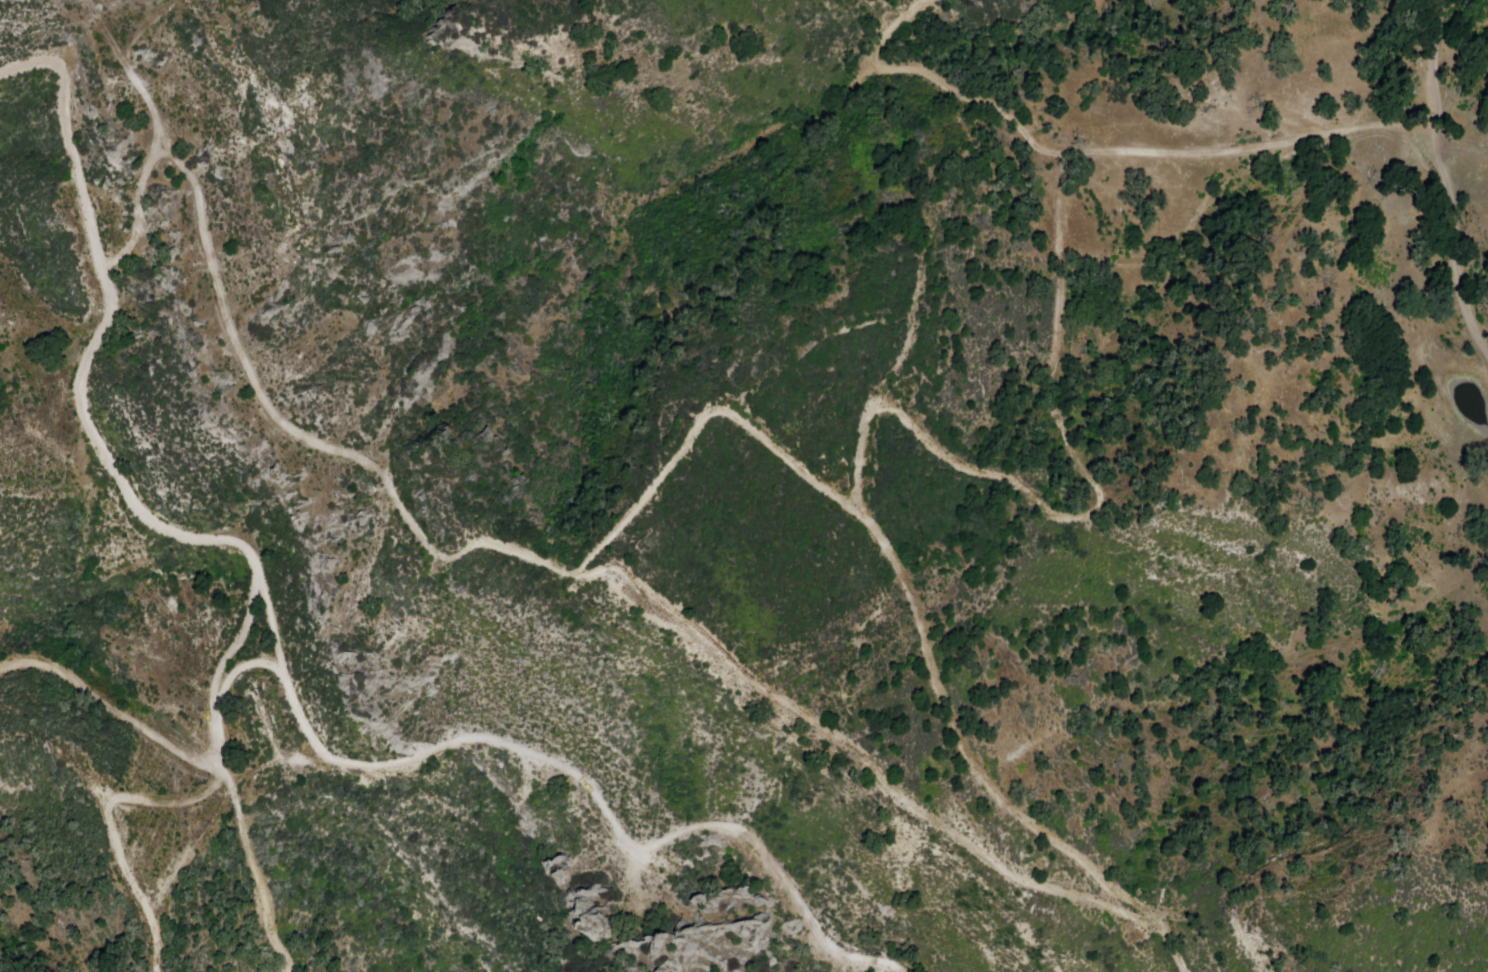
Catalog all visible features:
road: (1447, 181)
road: (277, 682)

